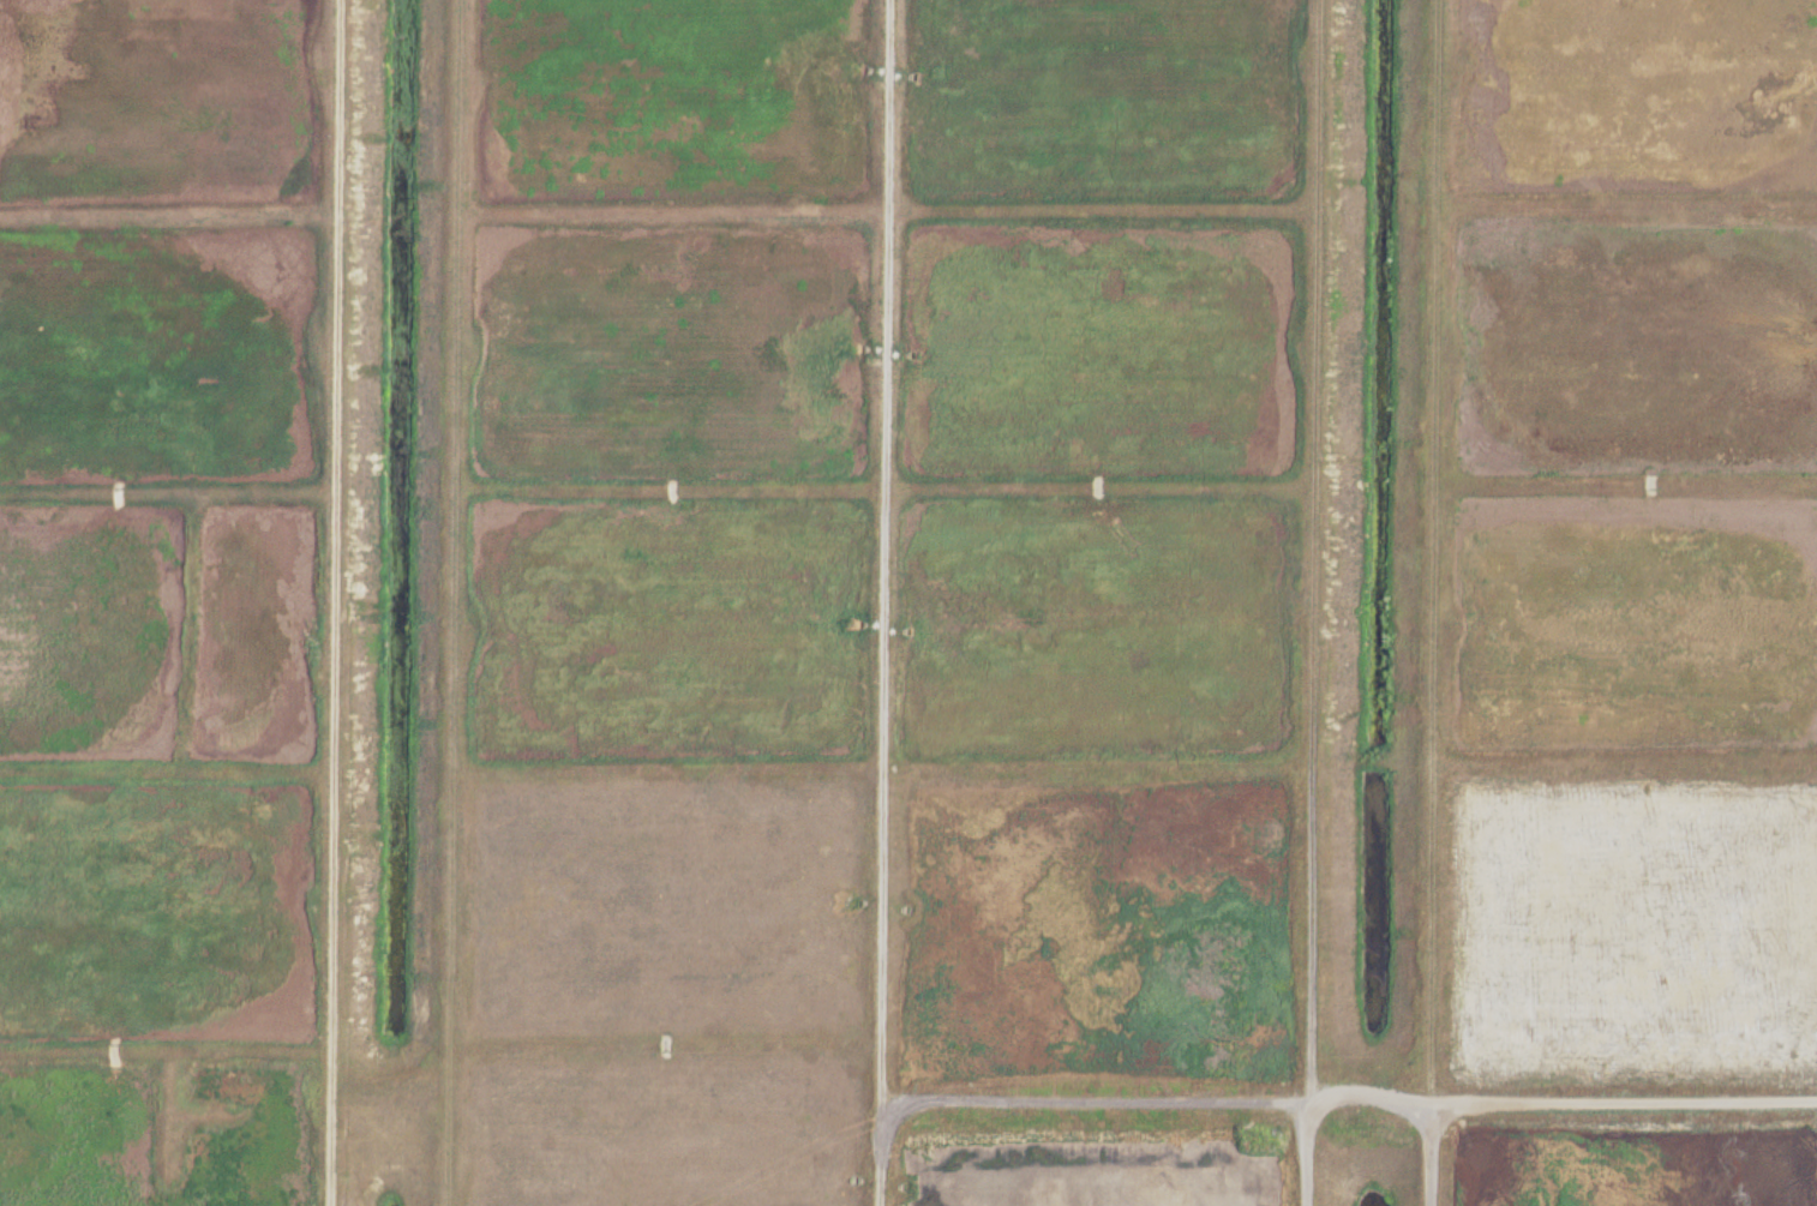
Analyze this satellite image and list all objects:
wastewater plant: (908, 602)

